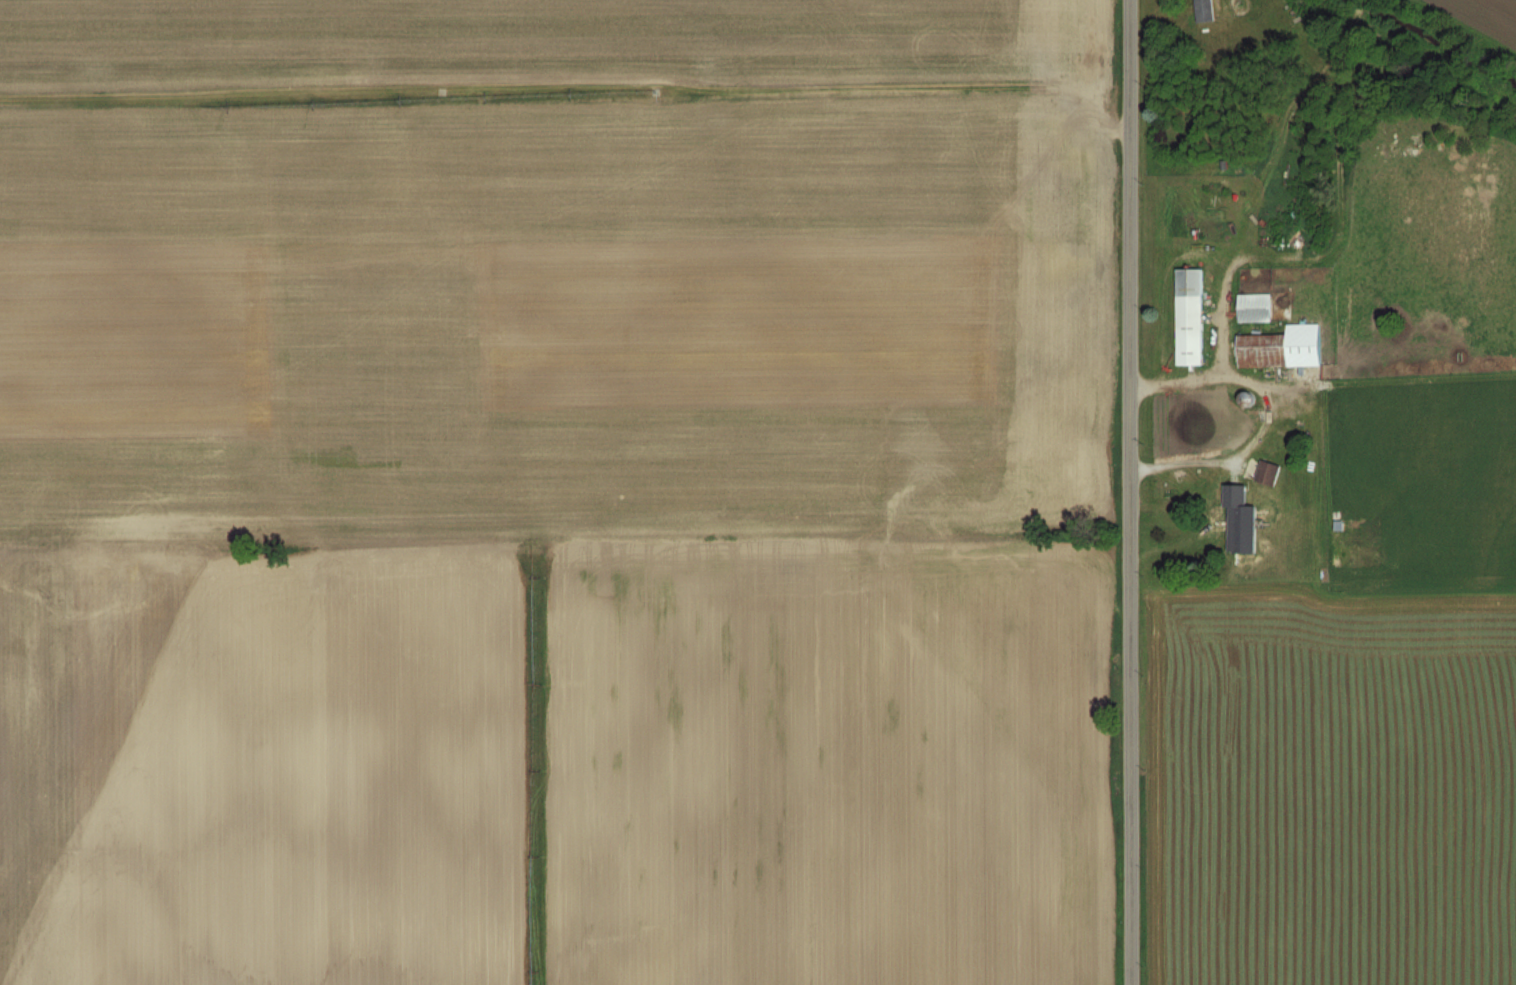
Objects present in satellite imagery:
building: (1203, 10)
building: (1254, 306)
building: (1189, 316)
building: (1282, 346)
road: (1265, 413)
building: (1267, 472)
road: (1133, 492)
building: (1255, 513)

